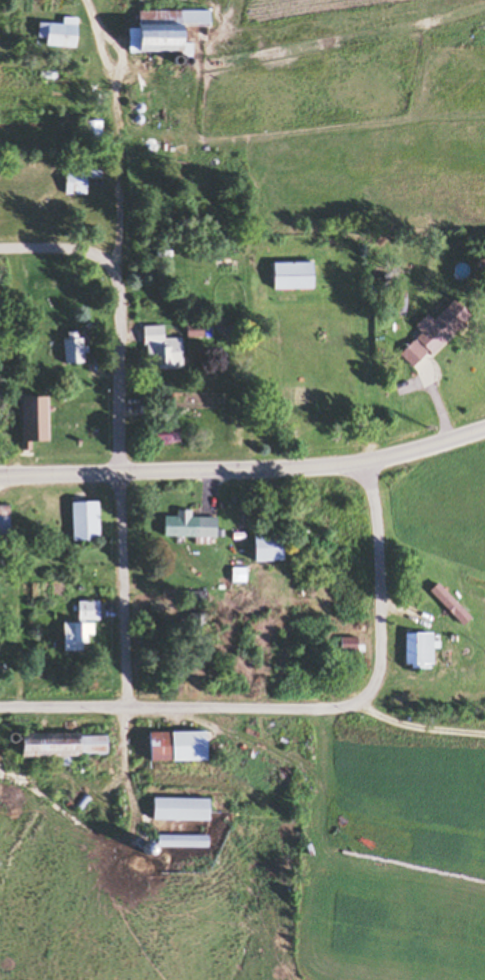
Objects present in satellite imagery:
building: (158, 30)
building: (54, 34)
building: (88, 130)
crop: (363, 131)
building: (76, 180)
road: (59, 249)
building: (288, 276)
building: (190, 330)
building: (431, 332)
building: (69, 350)
building: (162, 350)
road: (117, 353)
building: (30, 419)
building: (163, 434)
road: (245, 469)
crop: (444, 509)
building: (3, 521)
building: (80, 521)
building: (186, 526)
building: (261, 548)
building: (446, 604)
building: (85, 610)
building: (70, 637)
building: (344, 644)
building: (417, 651)
road: (305, 710)
road: (416, 730)
building: (69, 745)
building: (172, 747)
road: (124, 763)
building: (176, 809)
building: (177, 841)
crop: (391, 902)

